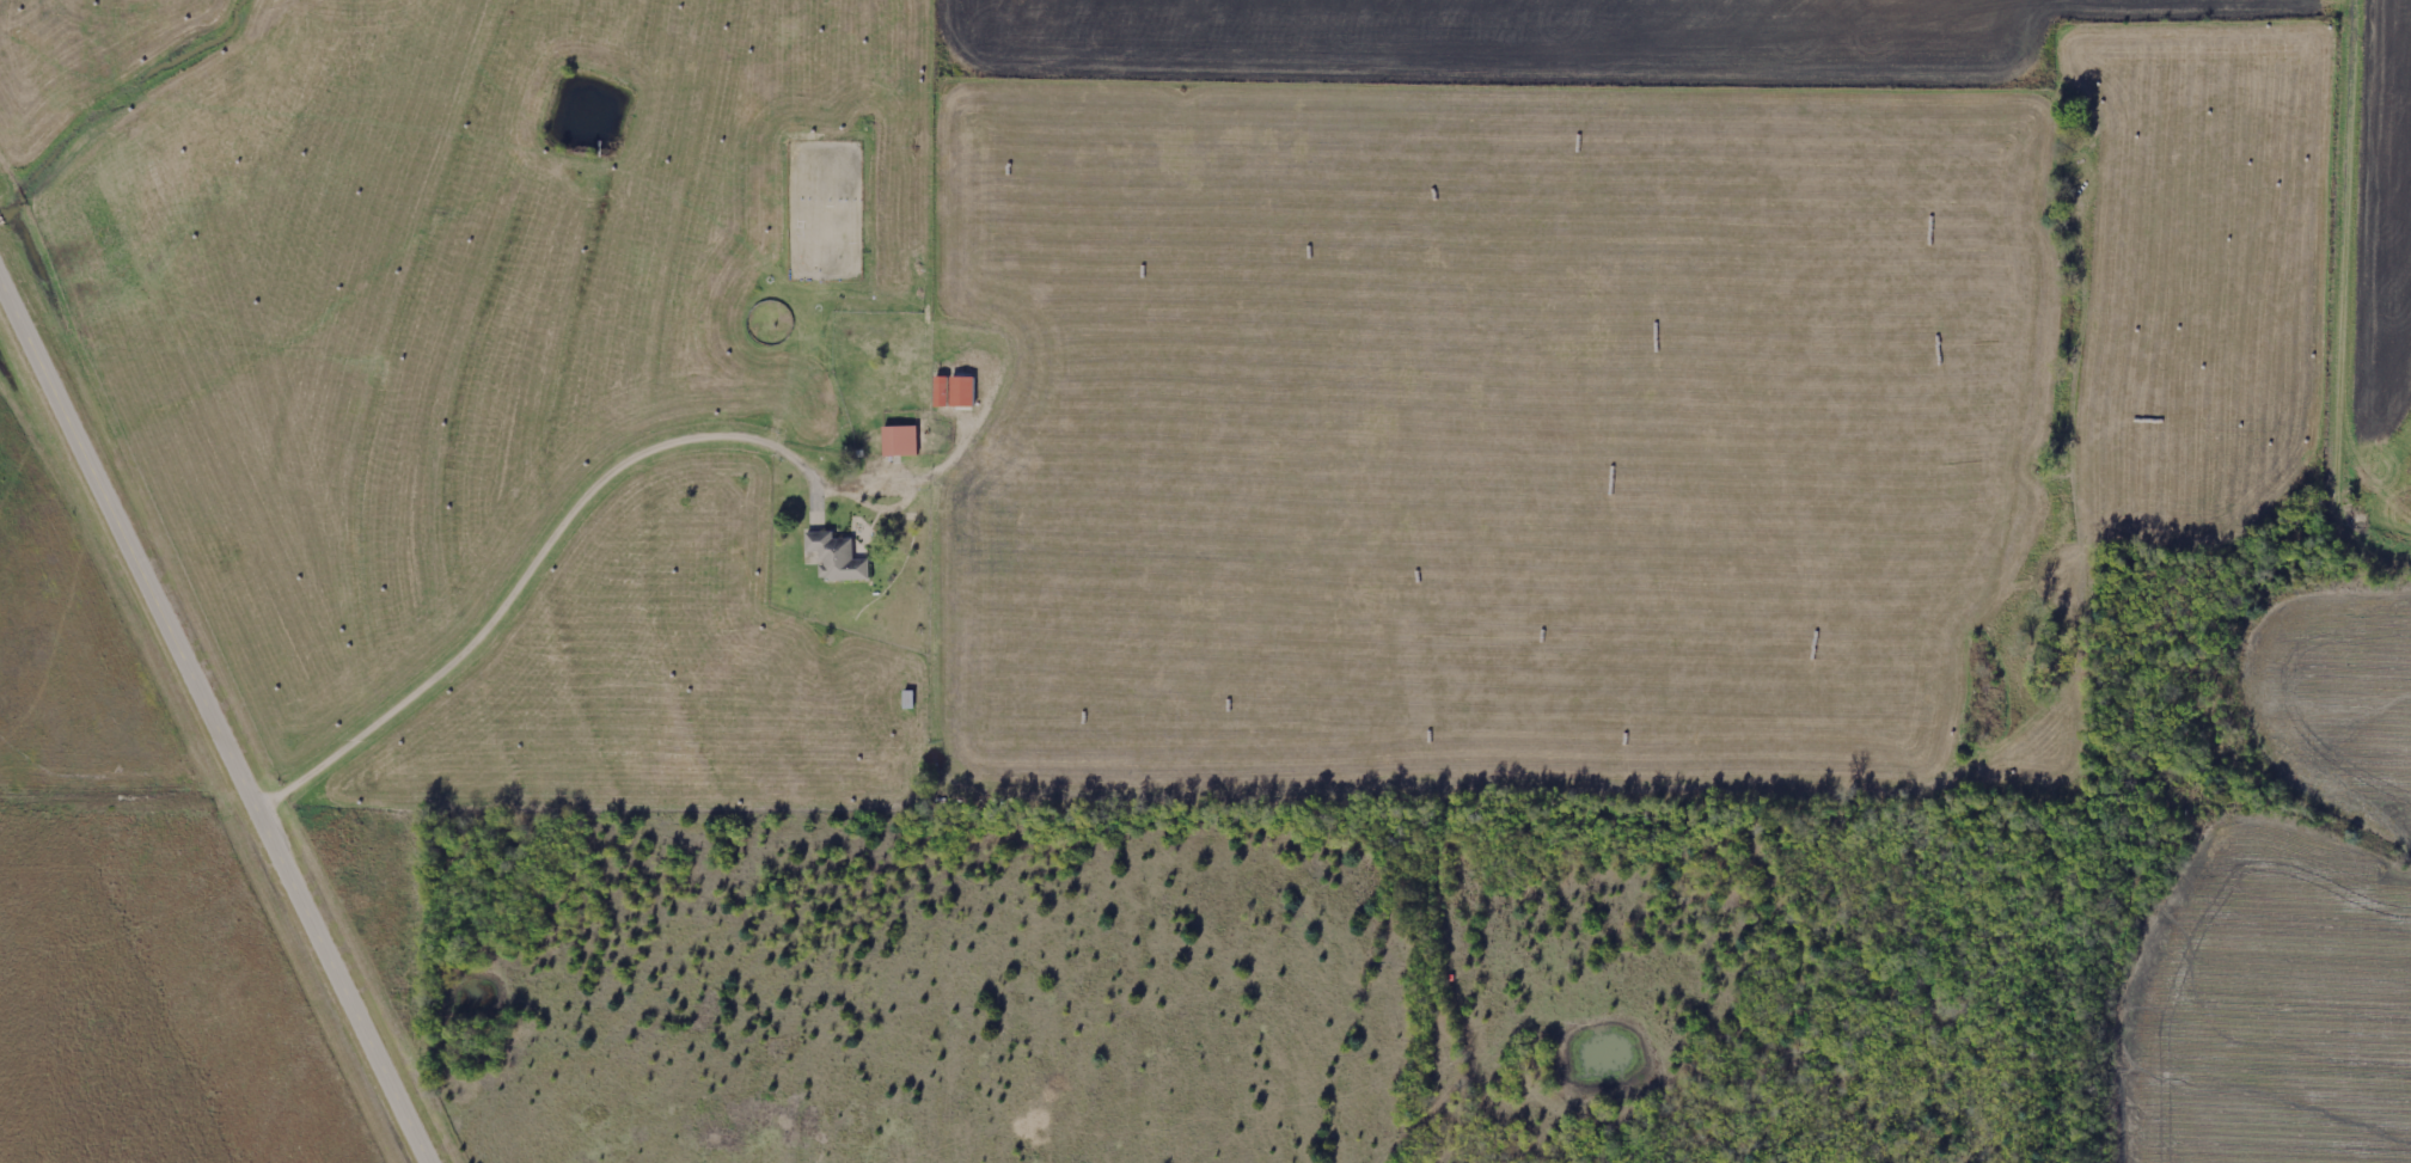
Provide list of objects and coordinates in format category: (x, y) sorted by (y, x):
road: (2351, 295)
building: (953, 391)
building: (899, 440)
building: (836, 557)
road: (210, 727)

